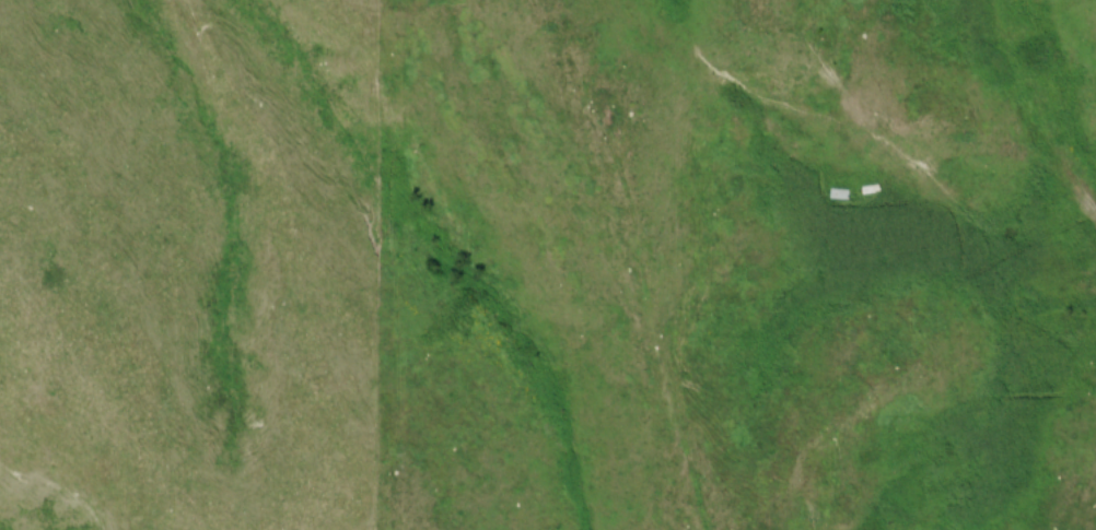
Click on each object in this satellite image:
building: (842, 197)

